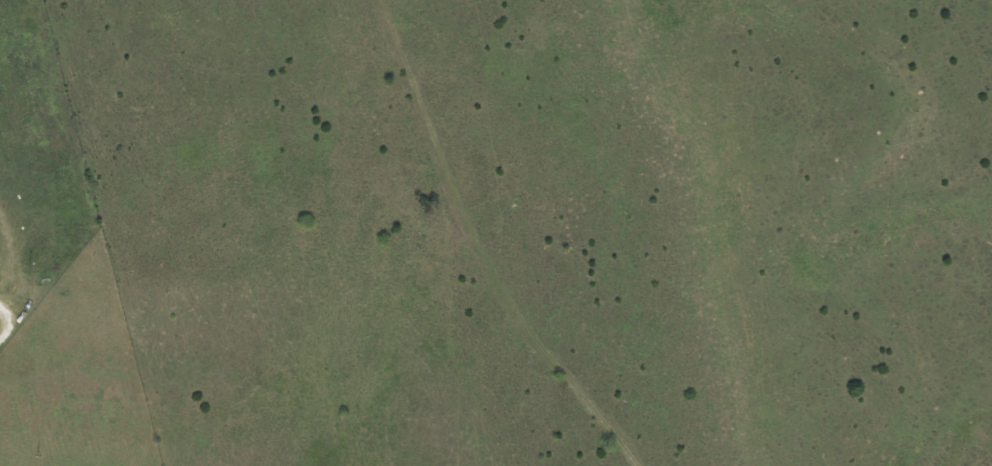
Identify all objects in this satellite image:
road: (3, 310)

